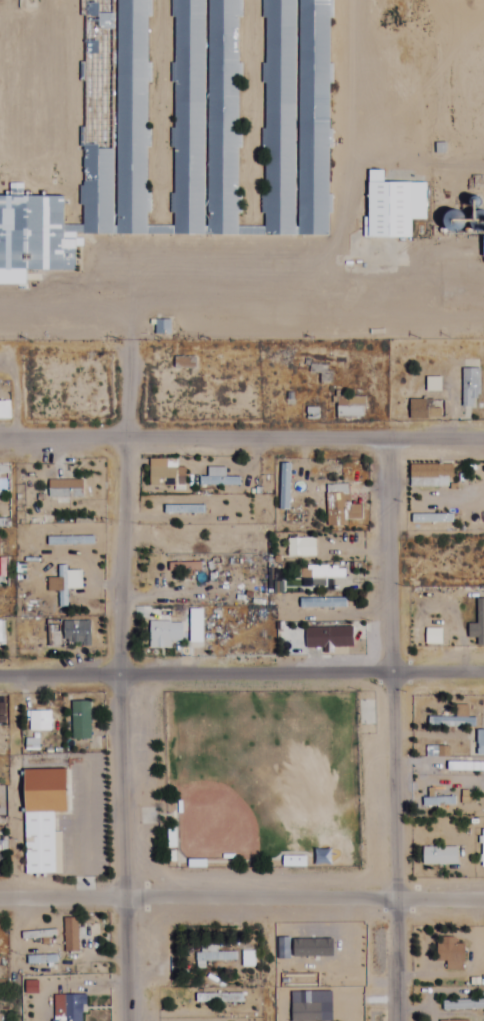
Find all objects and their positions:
building: (193, 134)
building: (392, 207)
building: (464, 225)
road: (290, 273)
road: (394, 304)
road: (127, 309)
building: (159, 327)
building: (470, 388)
building: (349, 407)
building: (424, 409)
road: (242, 443)
building: (165, 474)
building: (429, 475)
building: (218, 479)
building: (65, 490)
building: (188, 501)
building: (340, 506)
building: (70, 541)
building: (319, 576)
building: (67, 583)
building: (322, 603)
building: (159, 631)
building: (0, 632)
building: (75, 633)
building: (428, 637)
building: (325, 639)
road: (242, 674)
road: (129, 680)
building: (39, 721)
building: (80, 721)
building: (447, 722)
road: (389, 732)
building: (479, 743)
building: (436, 752)
building: (453, 766)
park: (262, 779)
building: (437, 802)
building: (41, 818)
building: (438, 856)
road: (241, 902)
building: (69, 935)
building: (450, 954)
building: (212, 956)
building: (218, 998)
building: (67, 1008)
building: (305, 1012)
building: (450, 1020)

